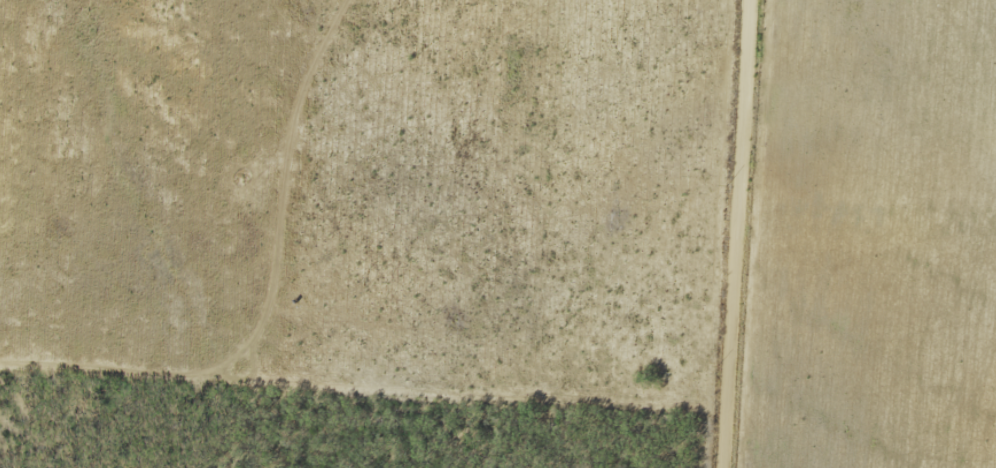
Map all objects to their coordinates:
road: (744, 234)

